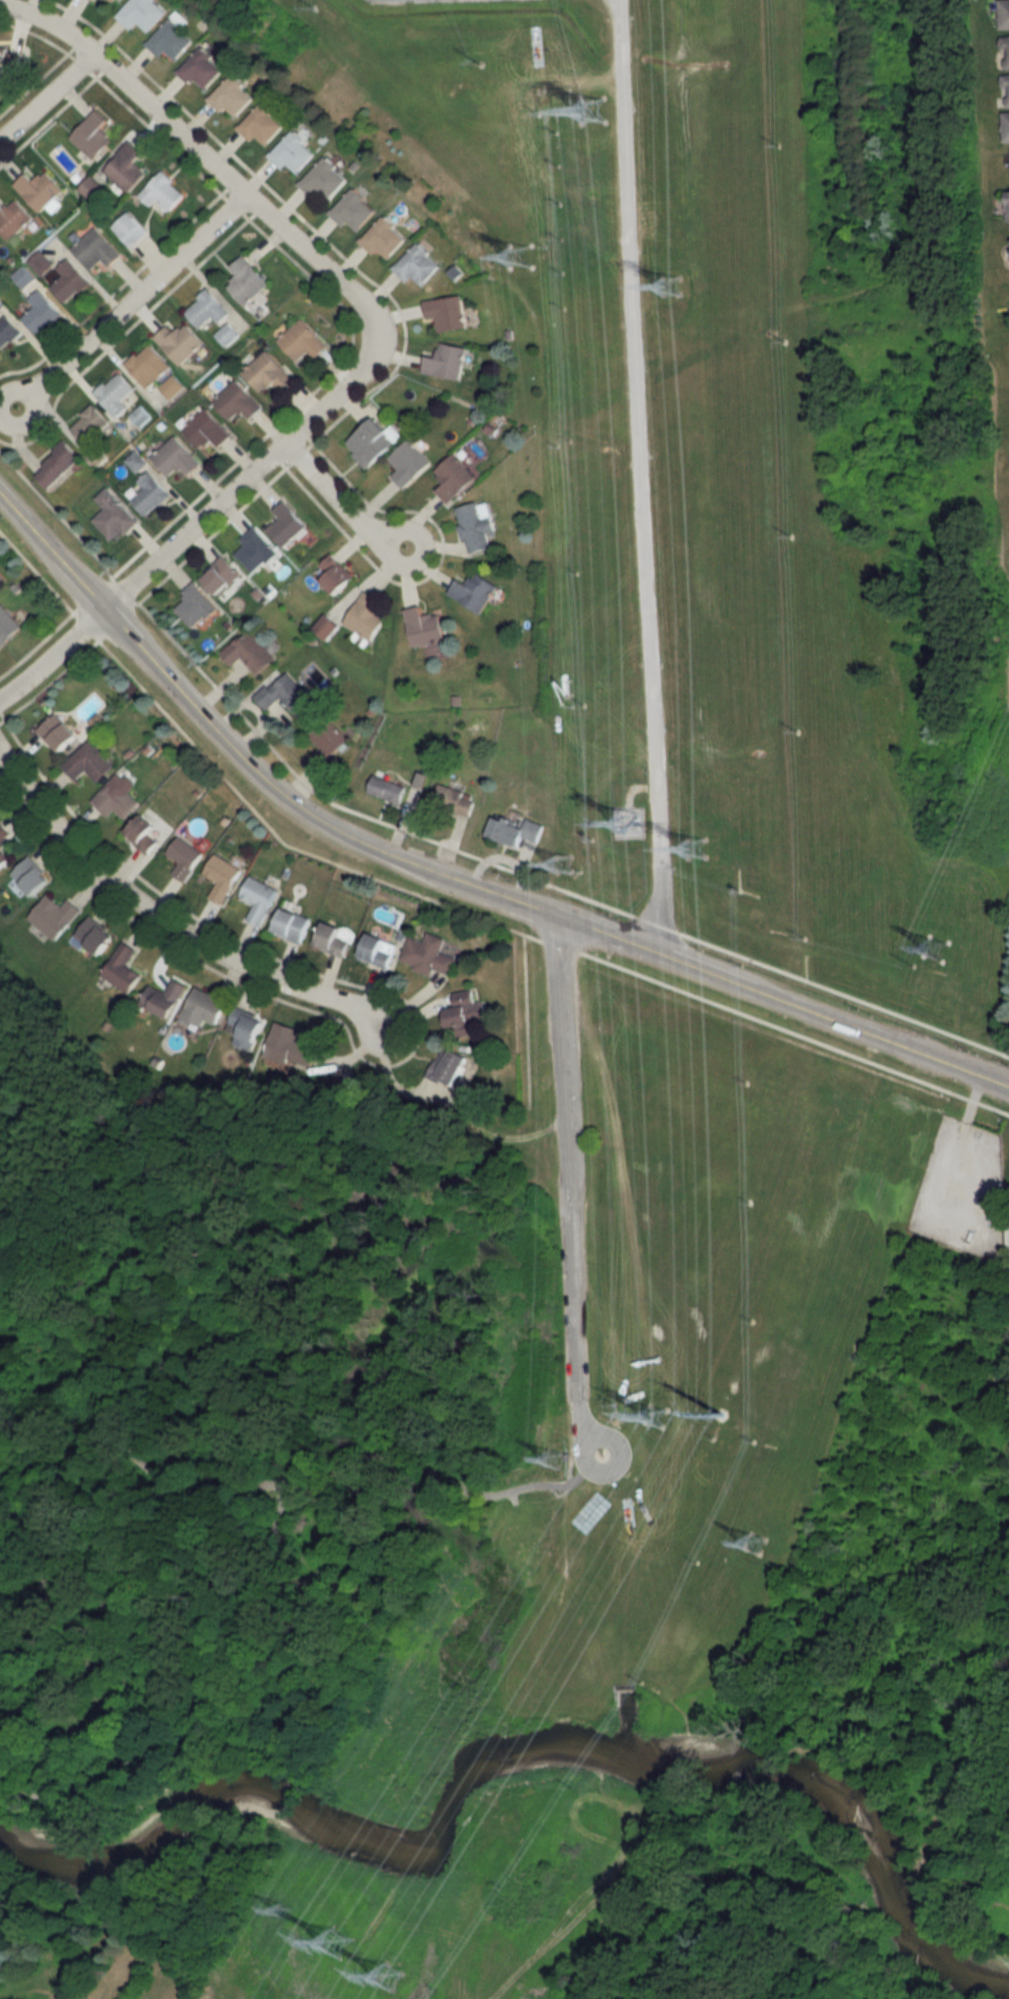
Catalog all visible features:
building: (111, 0)
road: (618, 1)
road: (619, 1)
building: (140, 13)
building: (1004, 14)
building: (169, 38)
building: (1005, 52)
building: (8, 60)
power tower: (479, 62)
building: (200, 69)
building: (1006, 90)
building: (230, 97)
road: (45, 98)
power tower: (597, 109)
building: (260, 125)
building: (1006, 127)
building: (92, 135)
building: (291, 152)
road: (199, 156)
building: (126, 167)
building: (323, 180)
building: (91, 189)
building: (39, 190)
building: (162, 192)
building: (1007, 205)
building: (351, 210)
building: (13, 219)
building: (128, 229)
building: (382, 238)
building: (96, 249)
power tower: (521, 258)
building: (417, 265)
building: (69, 281)
building: (248, 284)
power tower: (672, 285)
road: (129, 302)
building: (206, 309)
building: (41, 312)
building: (446, 312)
building: (7, 331)
building: (302, 340)
building: (180, 342)
building: (446, 361)
building: (148, 365)
building: (267, 373)
building: (115, 393)
building: (237, 401)
building: (89, 424)
building: (206, 430)
building: (372, 442)
building: (176, 458)
building: (409, 463)
building: (56, 465)
road: (640, 476)
building: (454, 478)
road: (244, 481)
building: (150, 493)
road: (339, 505)
building: (114, 516)
building: (287, 525)
building: (476, 526)
building: (255, 550)
building: (336, 574)
building: (221, 576)
building: (475, 591)
building: (195, 605)
building: (366, 616)
building: (8, 626)
building: (327, 626)
building: (425, 627)
building: (249, 652)
road: (51, 656)
building: (286, 695)
building: (58, 734)
building: (329, 744)
building: (89, 763)
building: (387, 789)
building: (115, 799)
building: (453, 800)
power tower: (627, 823)
building: (516, 831)
building: (145, 833)
building: (3, 841)
road: (443, 845)
power tower: (704, 845)
building: (185, 857)
power tower: (562, 864)
building: (32, 876)
building: (223, 877)
road: (448, 880)
building: (259, 899)
road: (449, 902)
building: (54, 916)
road: (167, 923)
building: (292, 925)
power tower: (804, 936)
building: (93, 937)
building: (333, 940)
power tower: (936, 949)
building: (379, 950)
building: (429, 955)
power tower: (912, 964)
building: (123, 968)
building: (165, 997)
building: (205, 1008)
building: (467, 1008)
road: (528, 1012)
building: (246, 1027)
building: (290, 1045)
building: (451, 1064)
road: (566, 1179)
road: (94, 1221)
road: (86, 1328)
power tower: (660, 1419)
power tower: (724, 1435)
road: (592, 1436)
park: (601, 1452)
power tower: (552, 1456)
park: (304, 1464)
road: (292, 1474)
road: (569, 1474)
road: (559, 1492)
road: (533, 1496)
road: (510, 1497)
power tower: (754, 1545)
river: (625, 1726)
road: (254, 1743)
river: (514, 1757)
power tower: (283, 1913)
power tower: (338, 1943)
power tower: (390, 1977)

